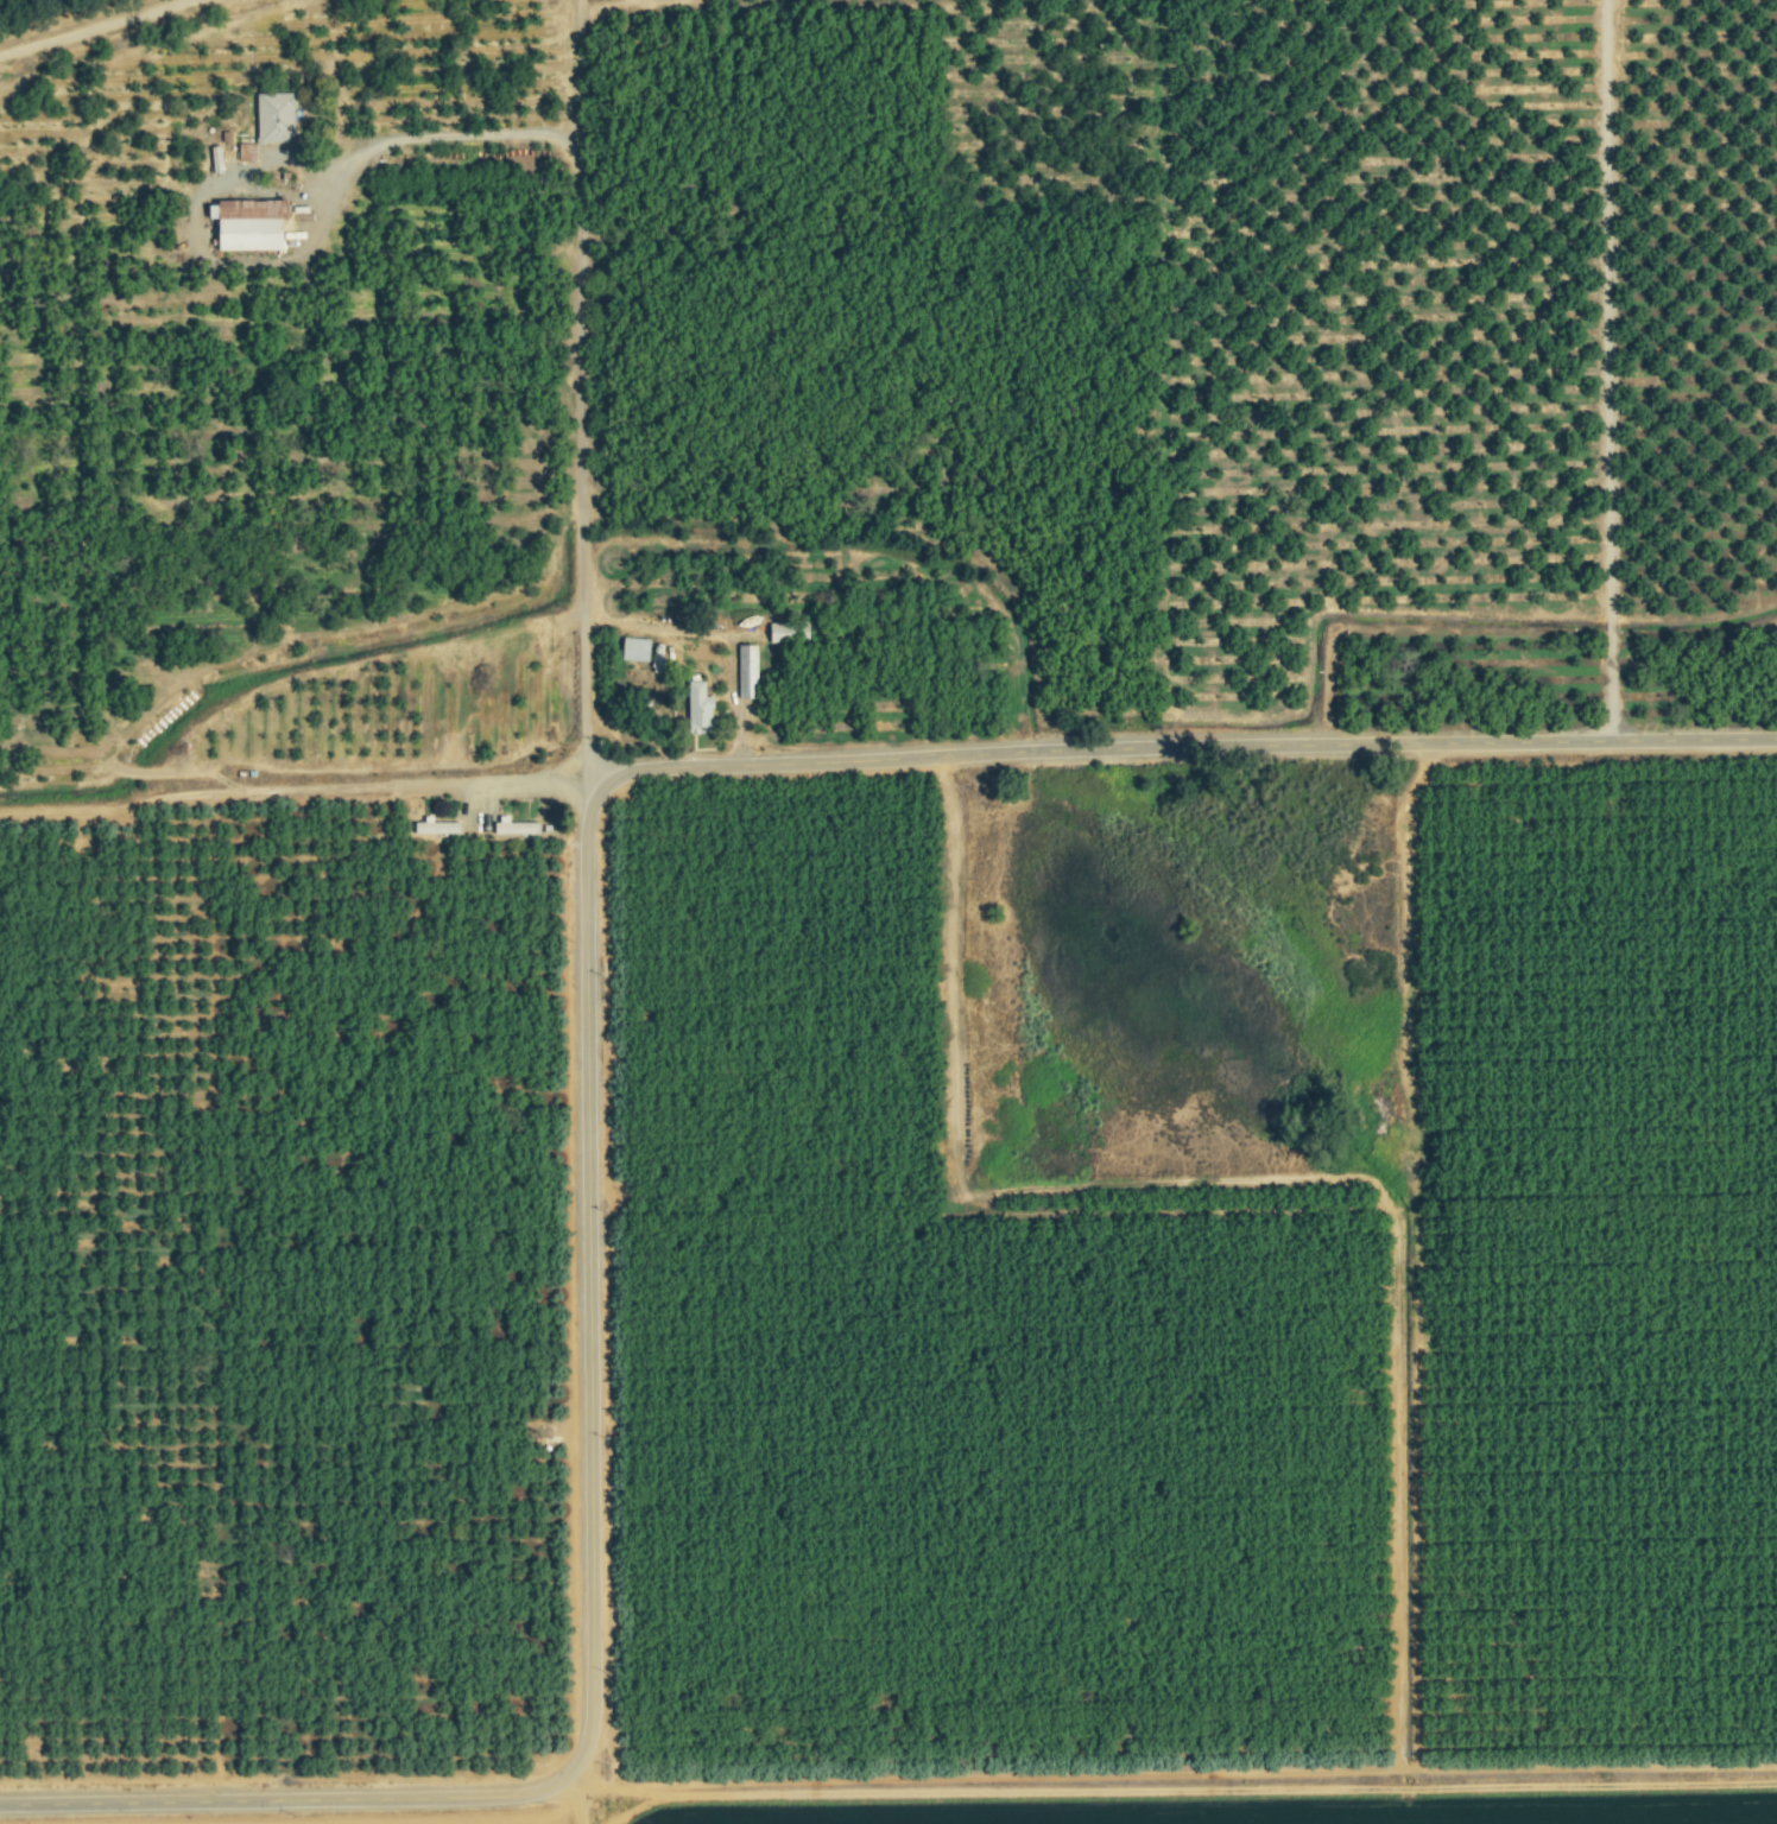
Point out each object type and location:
road: (643, 5)
road: (100, 28)
road: (588, 81)
building: (276, 116)
road: (273, 188)
road: (587, 214)
building: (254, 226)
road: (1613, 369)
building: (788, 632)
building: (638, 648)
building: (748, 671)
building: (701, 705)
road: (1180, 747)
road: (559, 768)
road: (356, 786)
building: (504, 828)
road: (580, 1290)
road: (284, 1790)
road: (577, 1804)

